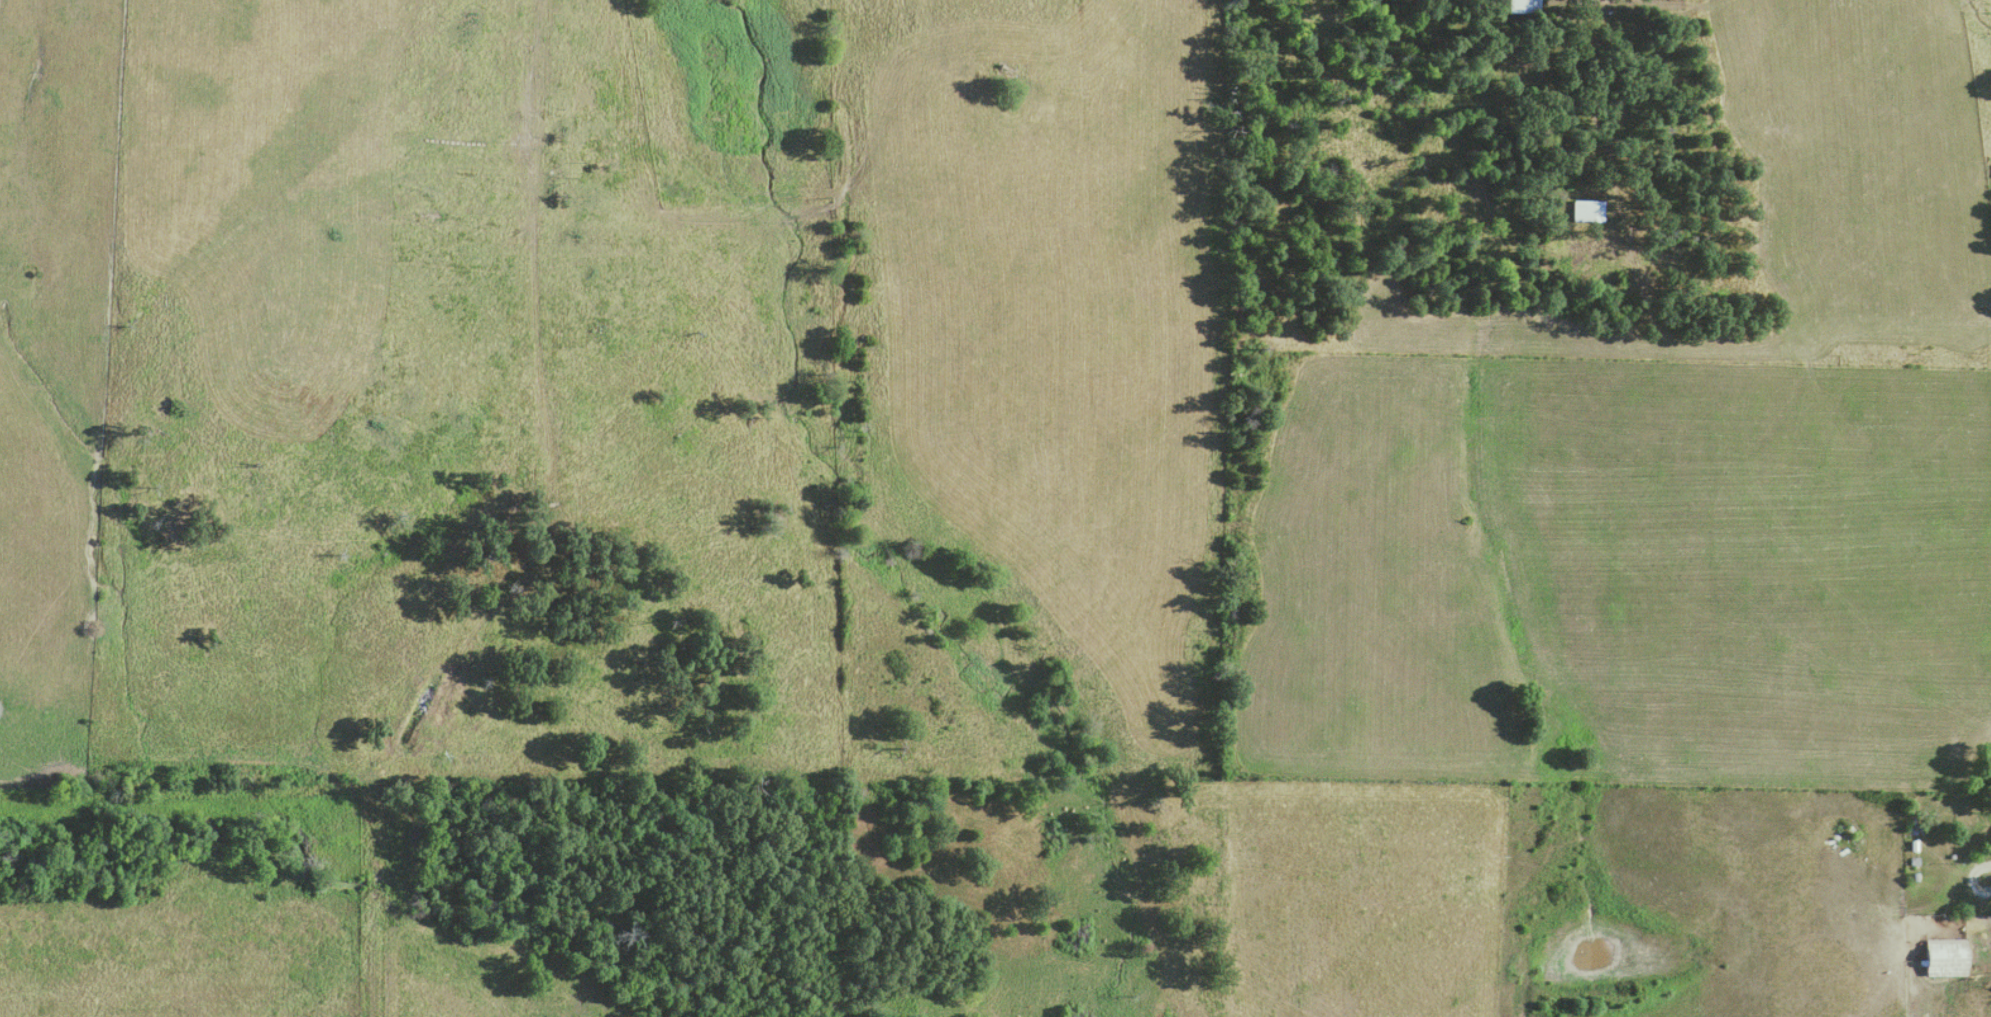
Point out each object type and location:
building: (1522, 6)
road: (1561, 83)
building: (1587, 211)
road: (1975, 890)
building: (1943, 957)

